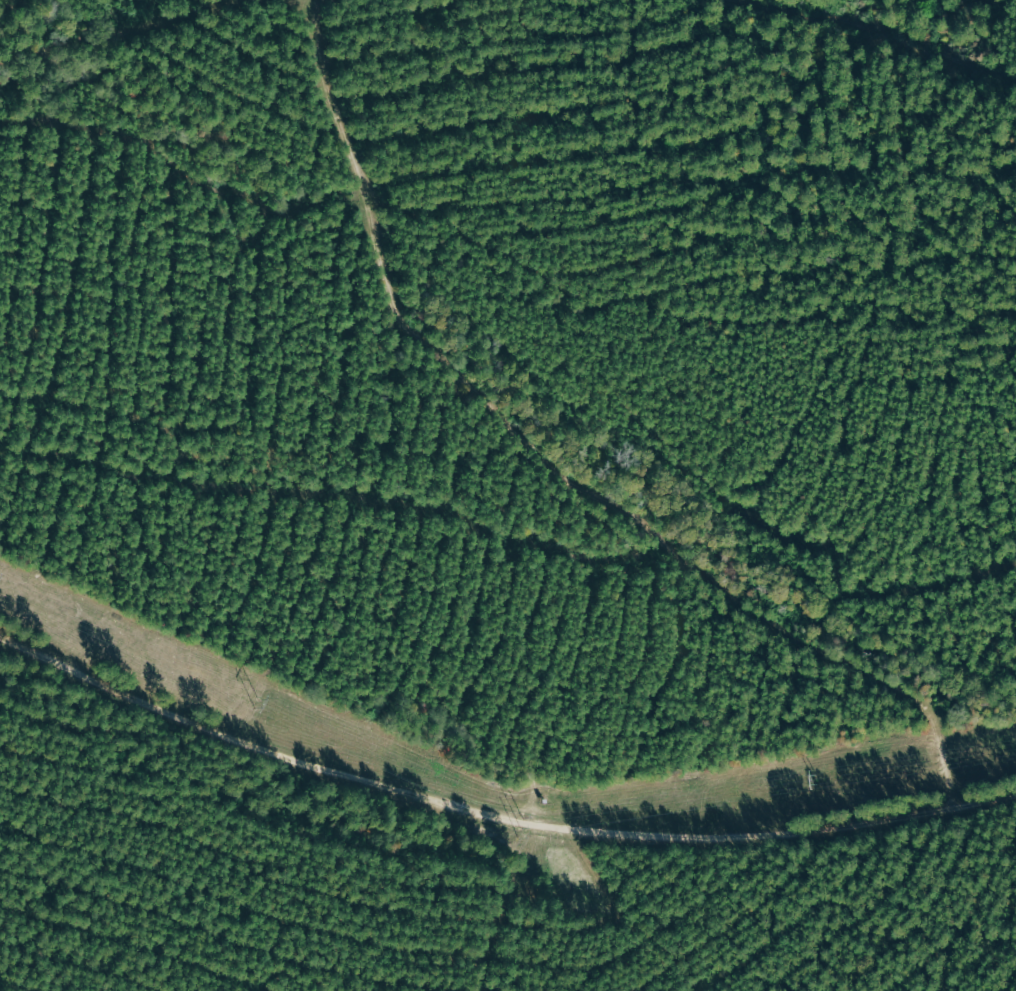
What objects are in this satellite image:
power tower: (256, 704)
road: (496, 772)
power tower: (815, 780)
power tower: (521, 825)

